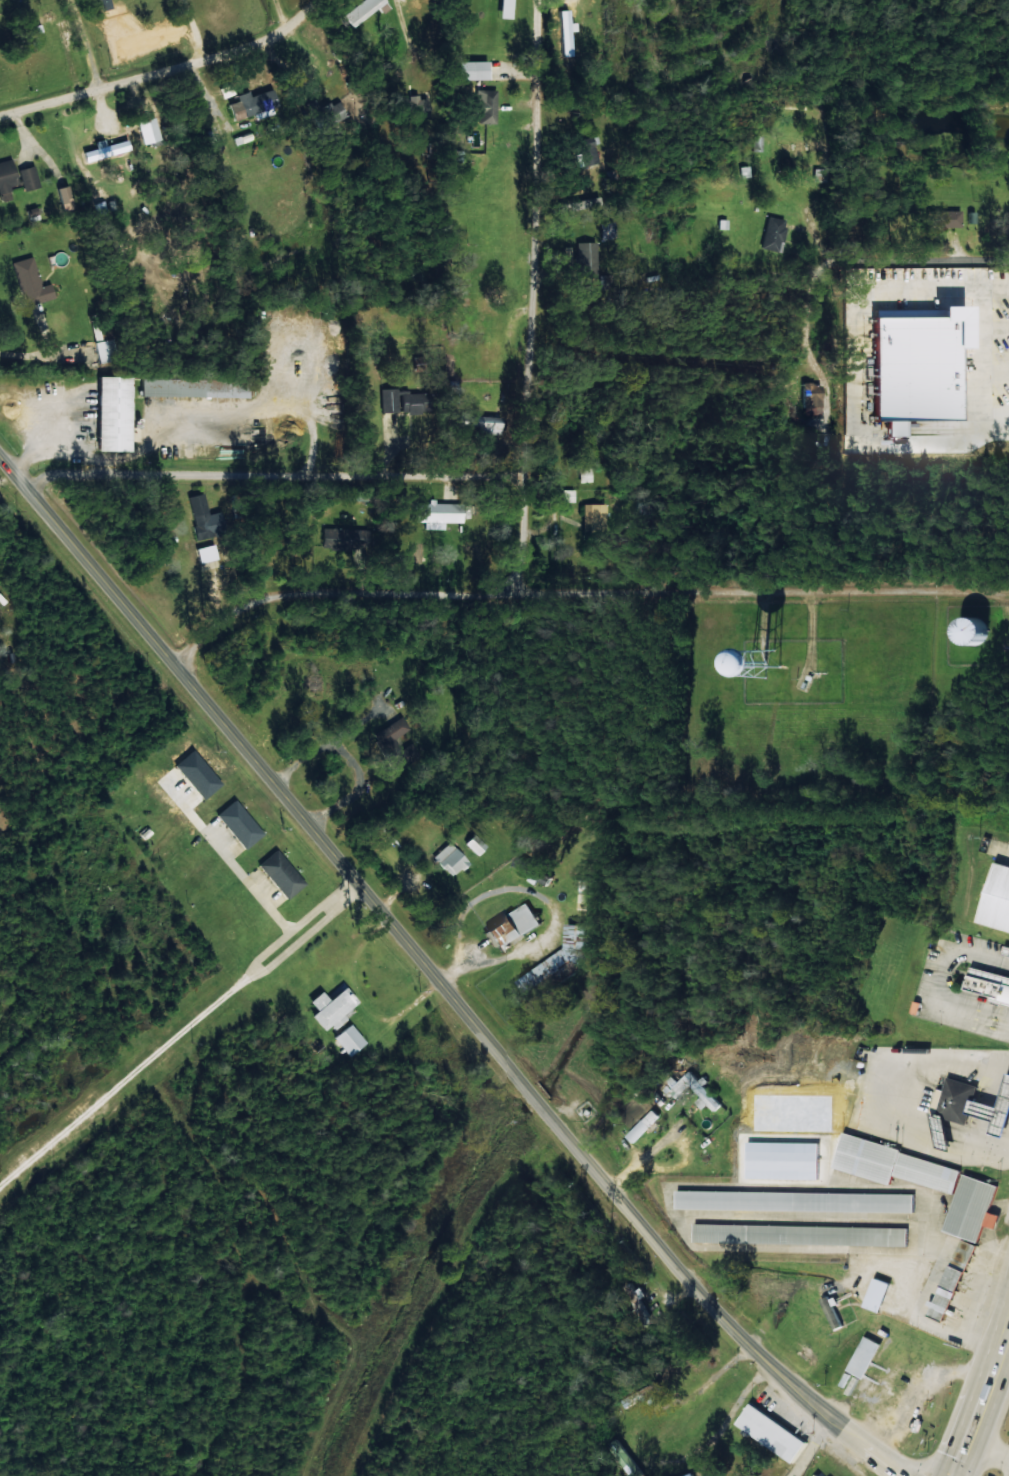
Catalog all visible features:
building: (506, 8)
building: (364, 10)
road: (240, 19)
building: (565, 32)
road: (91, 41)
road: (163, 64)
building: (473, 69)
building: (254, 105)
building: (487, 106)
building: (329, 112)
building: (148, 130)
building: (757, 142)
building: (801, 146)
building: (105, 149)
building: (588, 151)
building: (28, 177)
building: (7, 178)
building: (65, 197)
building: (587, 202)
building: (32, 213)
road: (846, 215)
building: (948, 218)
building: (607, 230)
building: (773, 233)
building: (585, 258)
road: (926, 264)
building: (31, 281)
road: (823, 283)
road: (526, 294)
road: (975, 348)
building: (104, 349)
building: (195, 387)
building: (812, 398)
building: (388, 400)
building: (415, 402)
building: (104, 410)
building: (484, 424)
road: (929, 439)
road: (272, 473)
building: (586, 474)
building: (438, 514)
building: (205, 518)
building: (595, 520)
building: (344, 538)
building: (206, 553)
road: (766, 581)
road: (336, 593)
building: (977, 631)
building: (789, 662)
water tower: (748, 689)
building: (381, 741)
building: (239, 824)
building: (477, 845)
building: (451, 859)
building: (534, 871)
building: (281, 873)
building: (999, 899)
building: (515, 927)
building: (1007, 950)
building: (564, 957)
road: (438, 978)
building: (991, 985)
building: (332, 1007)
building: (350, 1040)
building: (700, 1090)
building: (960, 1099)
building: (995, 1113)
building: (645, 1125)
building: (896, 1164)
building: (797, 1201)
building: (974, 1208)
building: (802, 1234)
building: (952, 1287)
building: (880, 1293)
building: (636, 1301)
building: (833, 1312)
road: (984, 1401)
building: (774, 1432)
building: (633, 1466)
building: (819, 1474)

